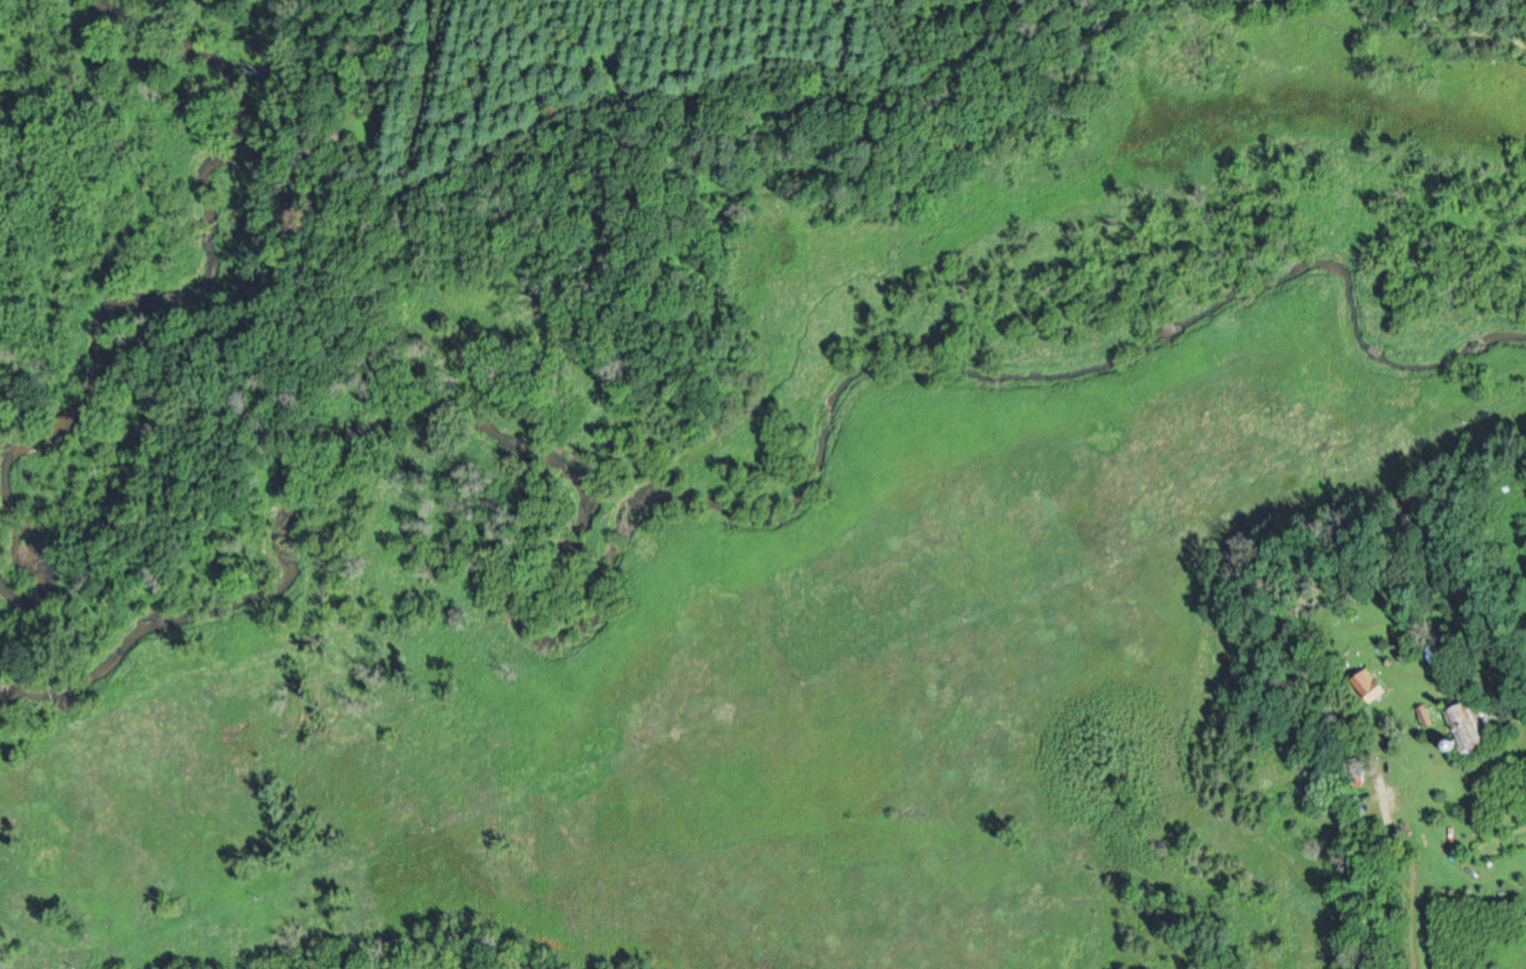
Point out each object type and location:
building: (1372, 684)
building: (1467, 733)
building: (1358, 778)

